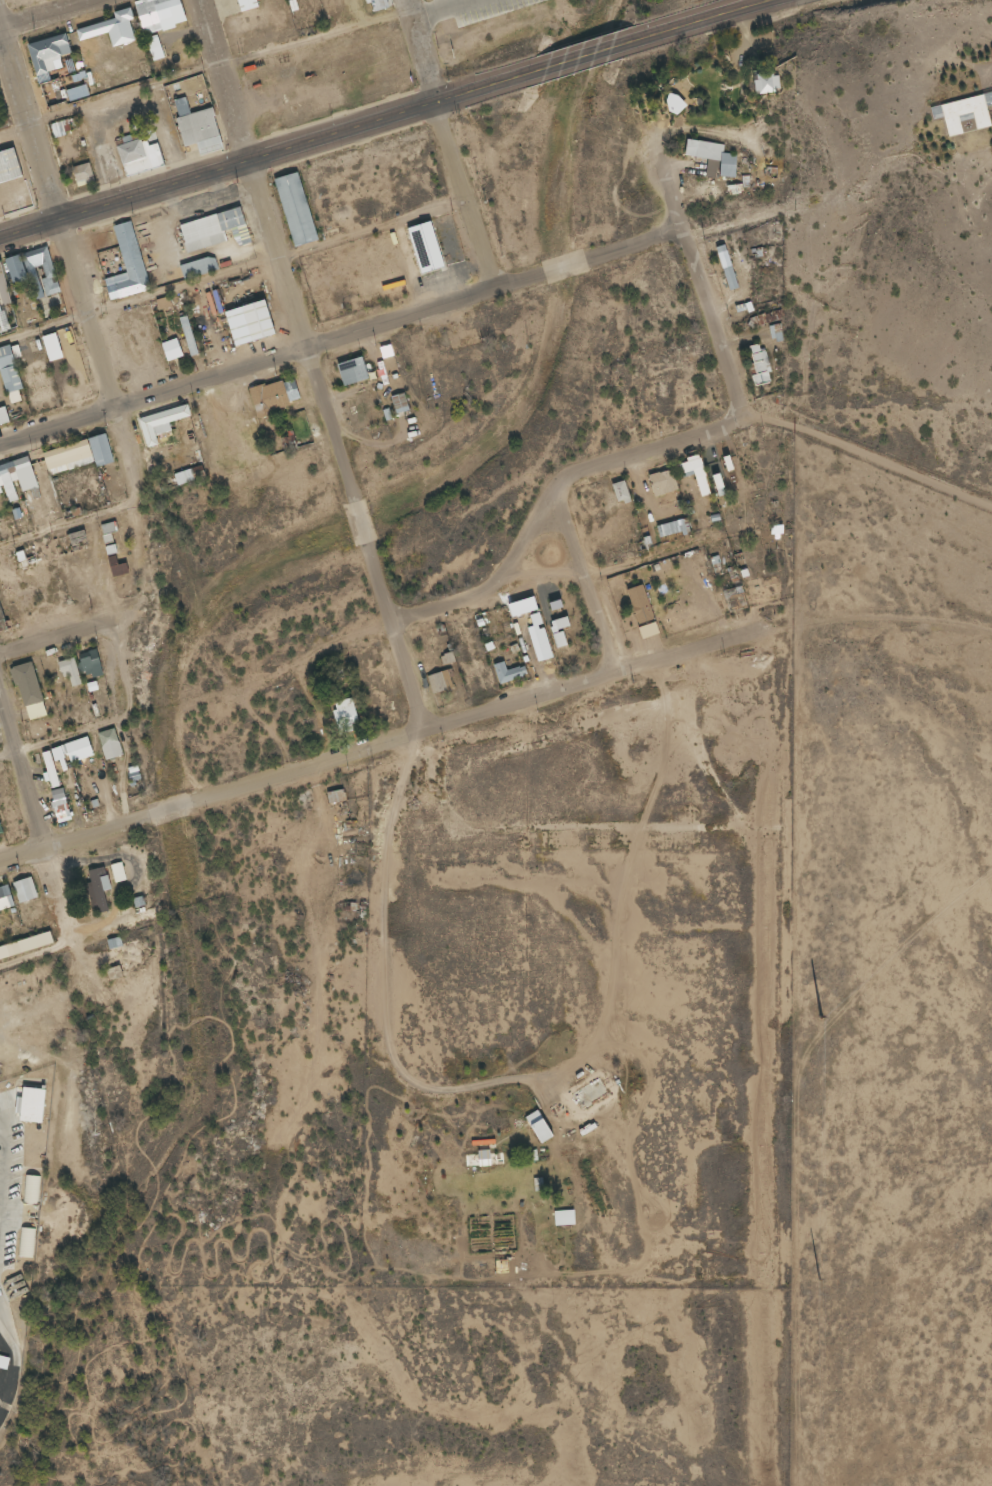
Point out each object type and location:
building: (377, 4)
building: (245, 5)
road: (438, 10)
road: (41, 13)
building: (157, 15)
road: (699, 18)
building: (110, 29)
building: (50, 46)
building: (153, 48)
road: (585, 53)
road: (201, 72)
building: (762, 82)
road: (480, 87)
building: (195, 128)
road: (28, 130)
road: (441, 144)
building: (136, 154)
building: (711, 158)
building: (8, 165)
road: (214, 171)
building: (81, 174)
road: (841, 193)
building: (293, 209)
building: (211, 229)
building: (127, 261)
building: (196, 267)
building: (725, 267)
building: (32, 271)
road: (229, 272)
building: (49, 275)
road: (700, 290)
building: (4, 310)
building: (255, 320)
building: (187, 335)
road: (341, 338)
building: (460, 339)
building: (169, 350)
road: (97, 356)
road: (309, 363)
building: (758, 364)
building: (349, 371)
building: (8, 375)
building: (272, 396)
building: (398, 403)
building: (158, 423)
building: (63, 450)
building: (98, 450)
road: (651, 450)
road: (868, 456)
building: (1, 468)
building: (694, 474)
building: (187, 475)
building: (661, 482)
building: (0, 487)
building: (0, 492)
building: (619, 493)
building: (671, 528)
road: (530, 533)
road: (585, 577)
road: (444, 604)
building: (638, 604)
road: (72, 632)
building: (88, 663)
building: (68, 671)
building: (507, 672)
building: (439, 681)
building: (27, 690)
building: (342, 716)
road: (57, 736)
road: (376, 740)
building: (107, 744)
building: (77, 749)
building: (48, 769)
road: (22, 776)
building: (334, 797)
building: (0, 832)
building: (116, 872)
building: (23, 890)
building: (95, 891)
building: (4, 898)
building: (24, 945)
building: (114, 973)
power tower: (819, 1017)
building: (30, 1105)
building: (30, 1190)
building: (25, 1242)
power tower: (818, 1280)
building: (3, 1362)

